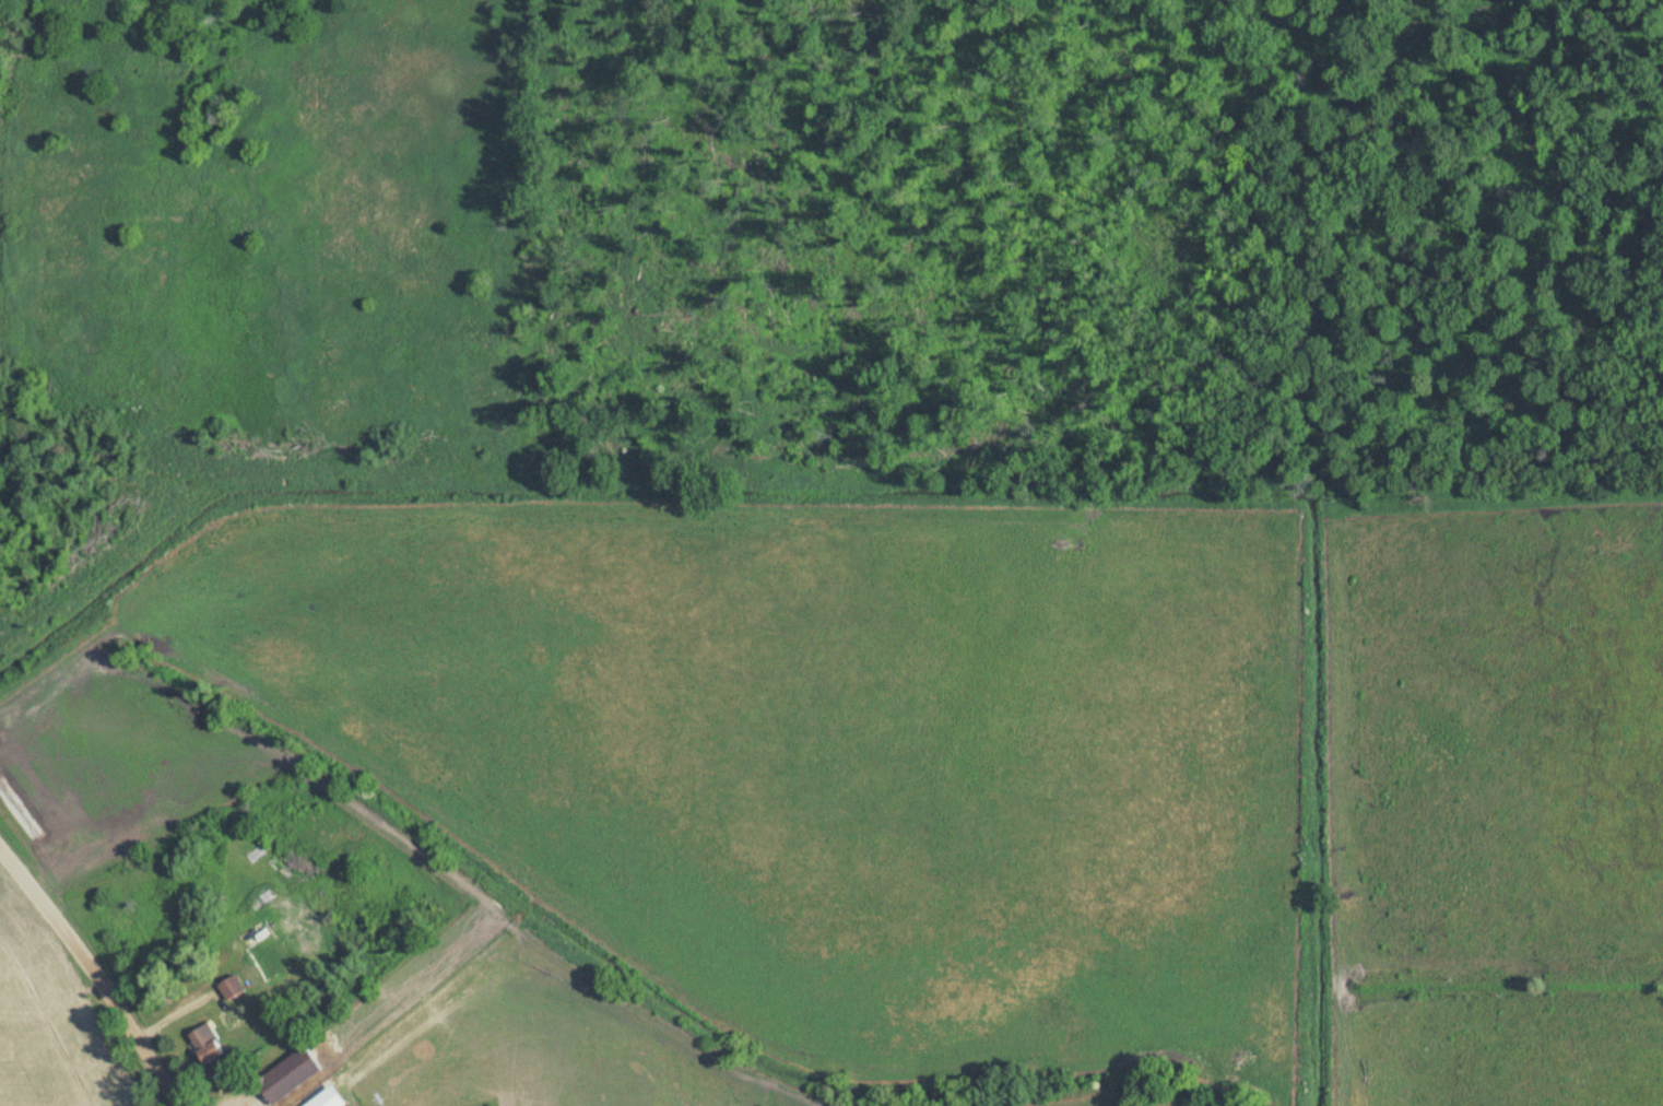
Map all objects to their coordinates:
building: (273, 960)
road: (92, 976)
building: (234, 989)
building: (210, 1044)
building: (294, 1076)

